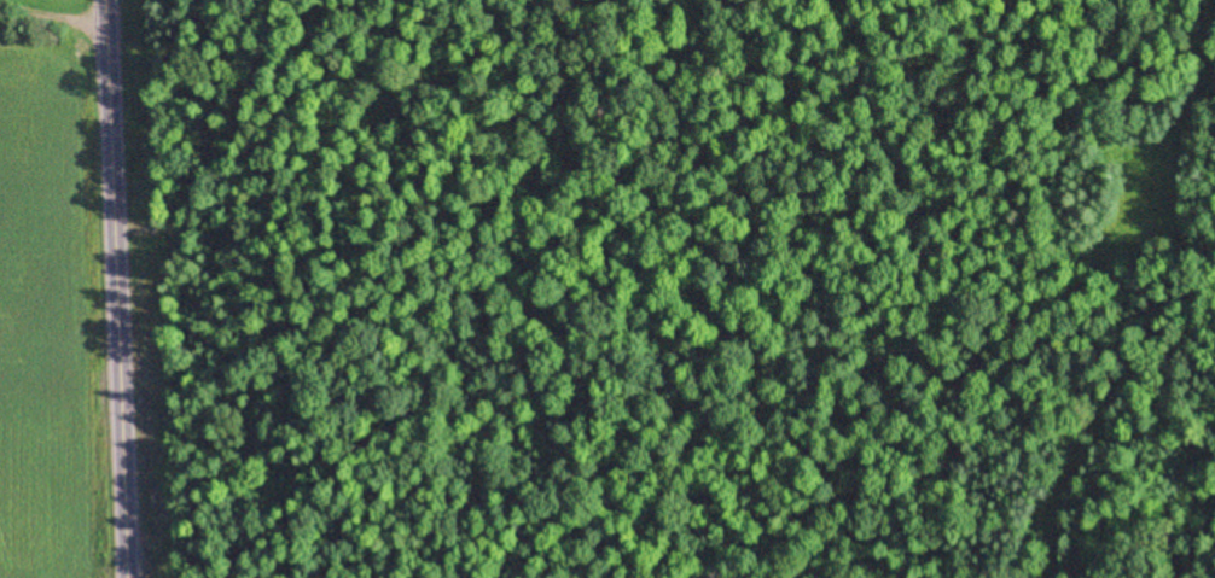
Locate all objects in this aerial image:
road: (127, 288)

